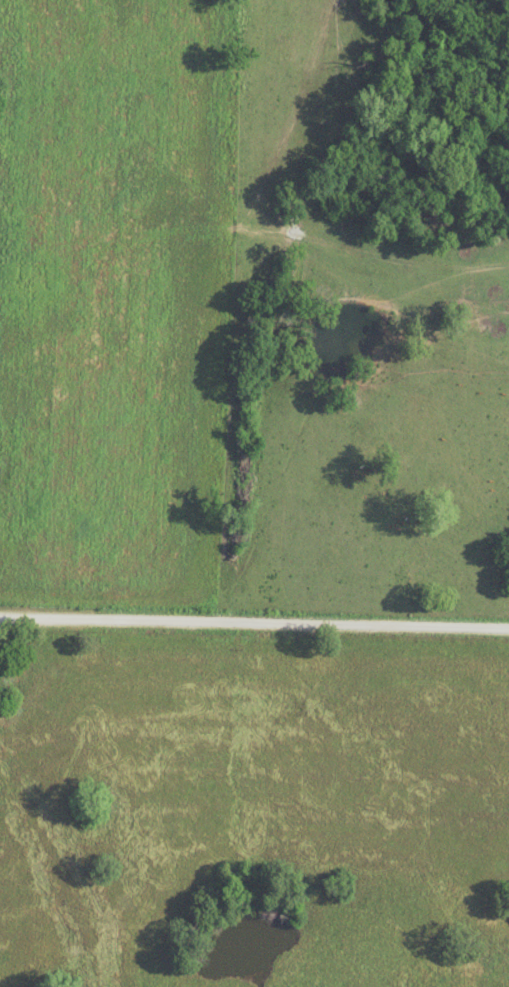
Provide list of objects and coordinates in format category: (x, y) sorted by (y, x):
road: (454, 269)
road: (254, 623)

